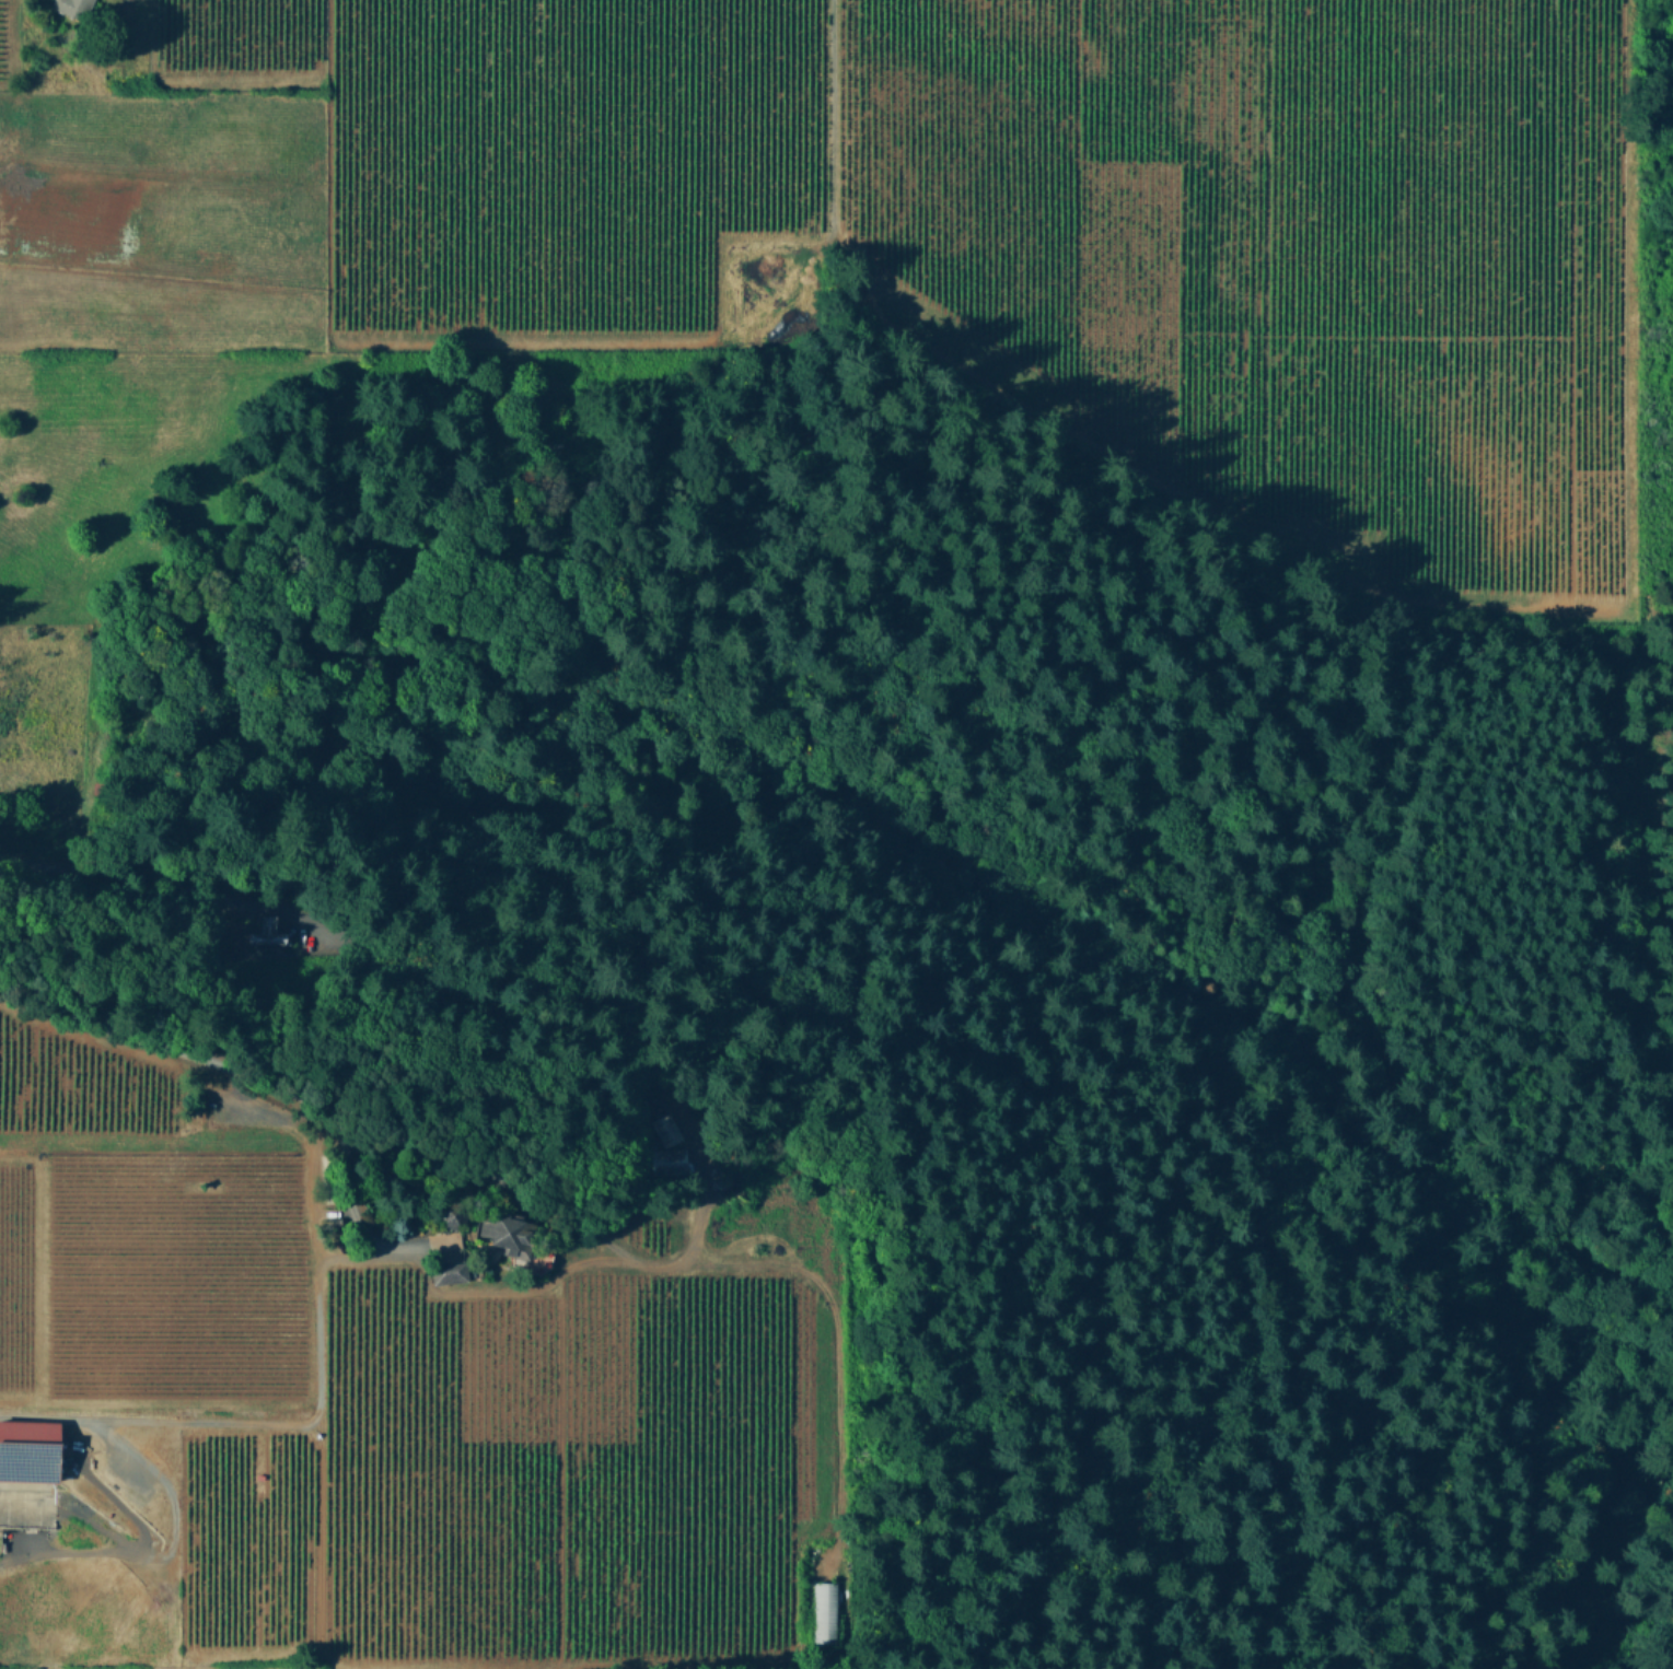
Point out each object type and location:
building: (73, 7)
building: (272, 929)
road: (90, 942)
crop: (129, 1099)
building: (504, 1230)
building: (450, 1272)
road: (114, 1551)
building: (827, 1610)

